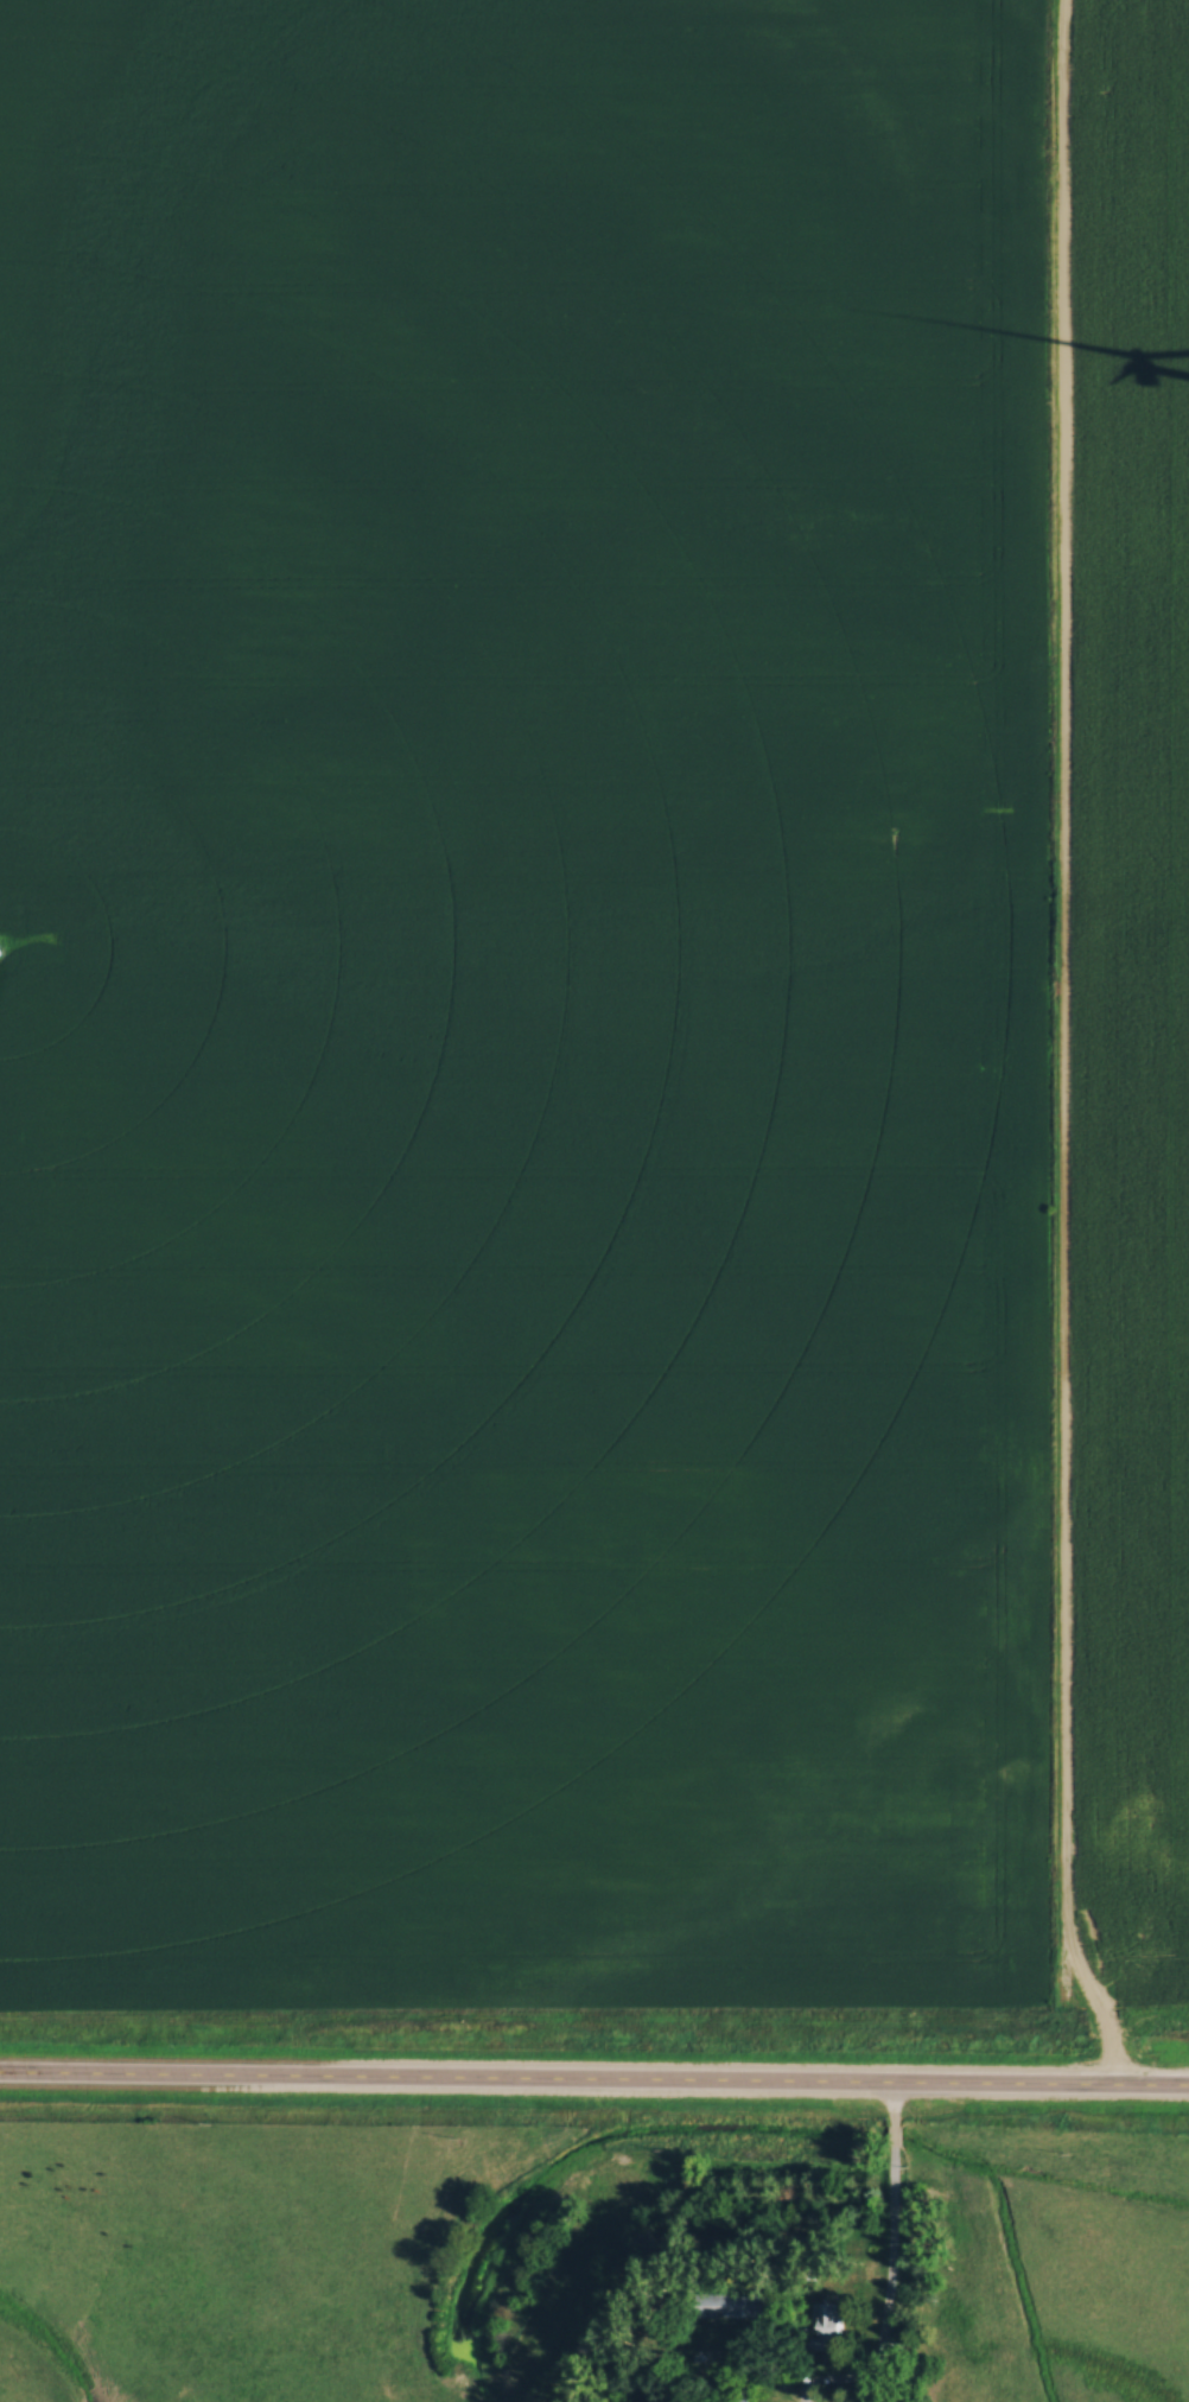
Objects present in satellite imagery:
road: (594, 2086)
road: (895, 2261)
building: (828, 2327)

